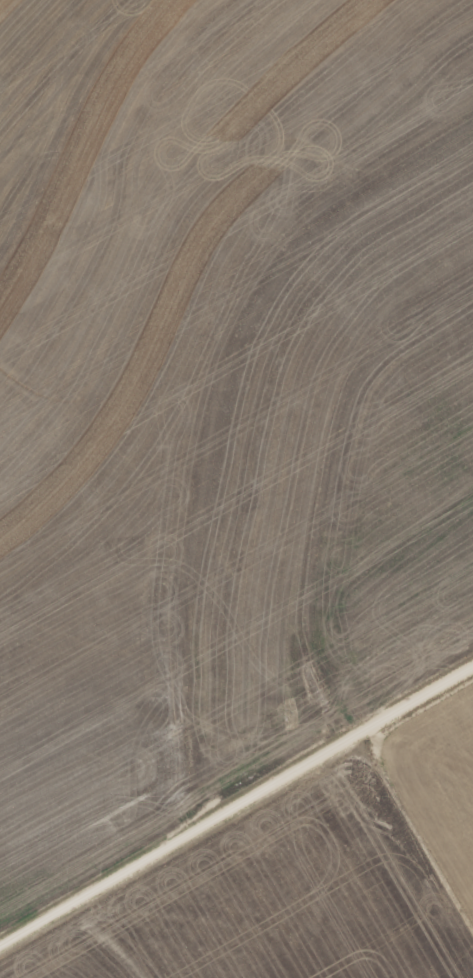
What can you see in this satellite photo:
road: (236, 810)

